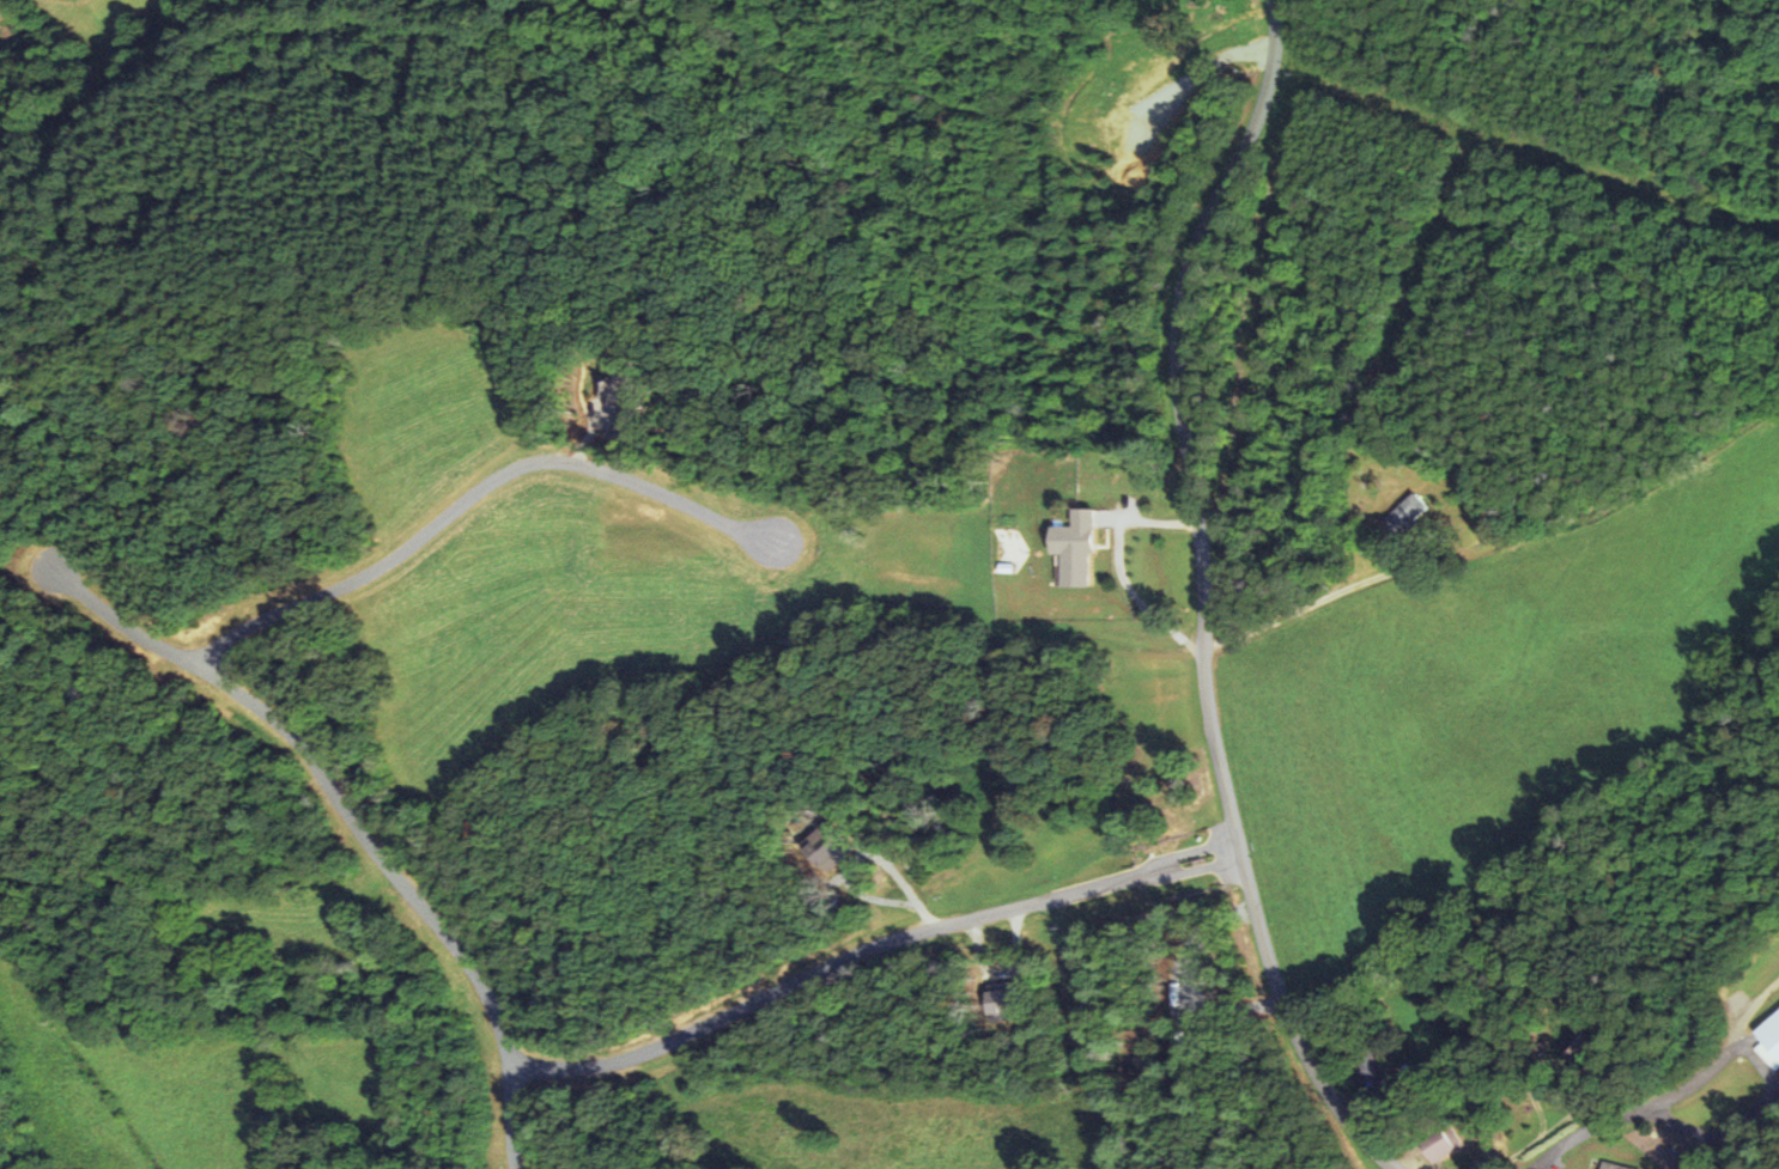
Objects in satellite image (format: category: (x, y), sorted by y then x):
road: (472, 492)
building: (1405, 513)
building: (1074, 549)
road: (1198, 599)
road: (1306, 599)
road: (321, 777)
road: (816, 970)
building: (1769, 1040)
building: (1368, 1066)
building: (1435, 1144)
building: (1609, 1165)

